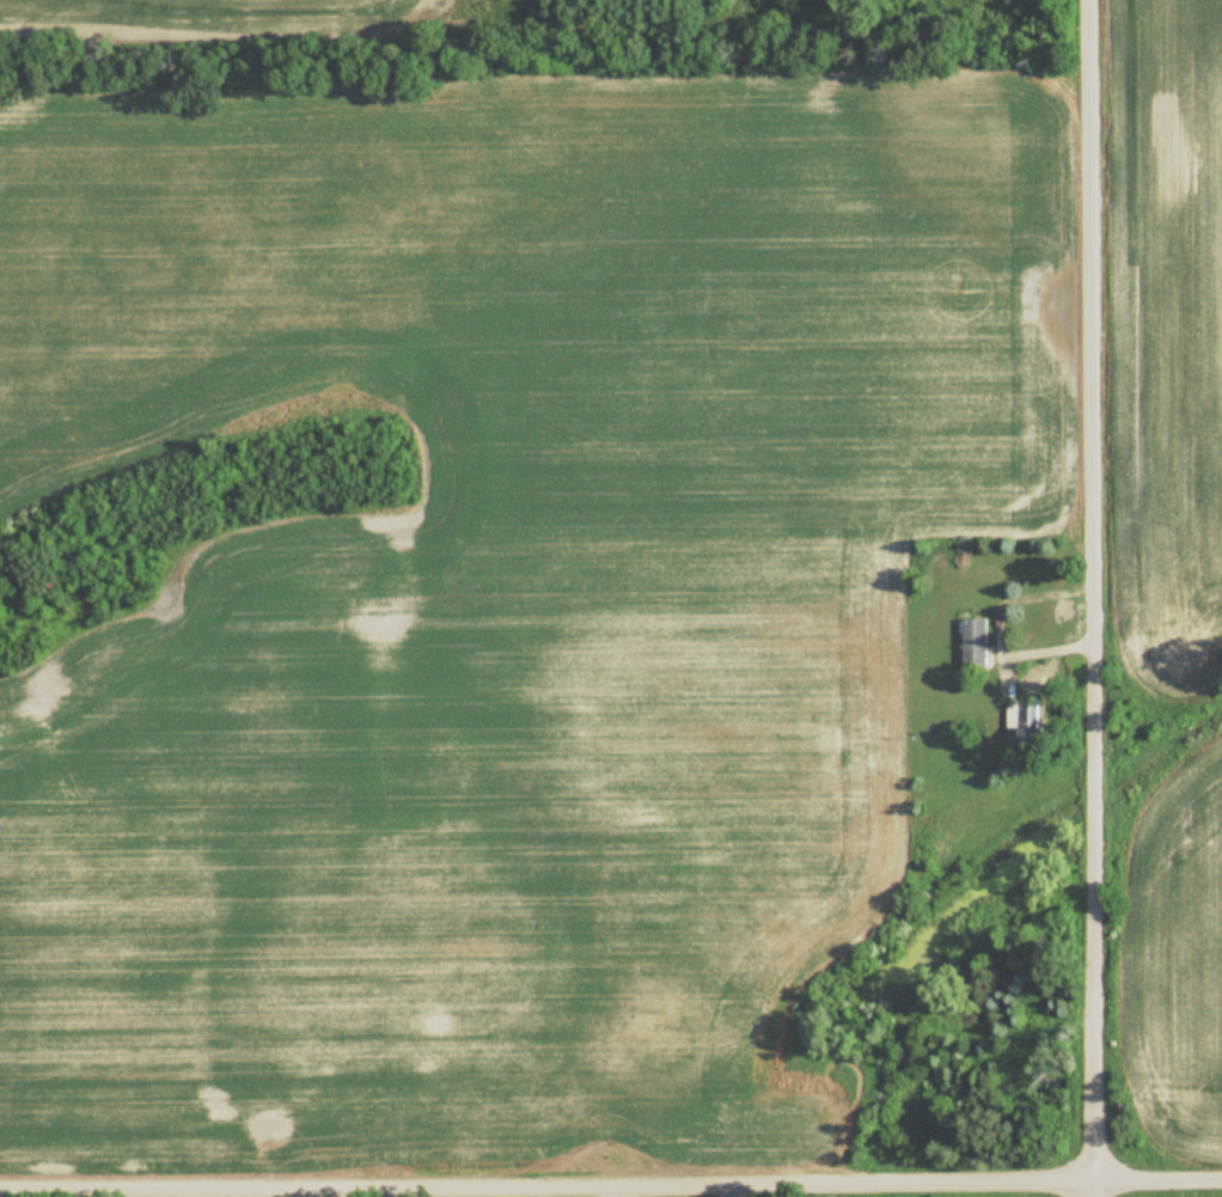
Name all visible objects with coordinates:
road: (1093, 598)
building: (977, 643)
building: (1029, 726)
building: (931, 786)
road: (611, 1183)
road: (734, 1190)

